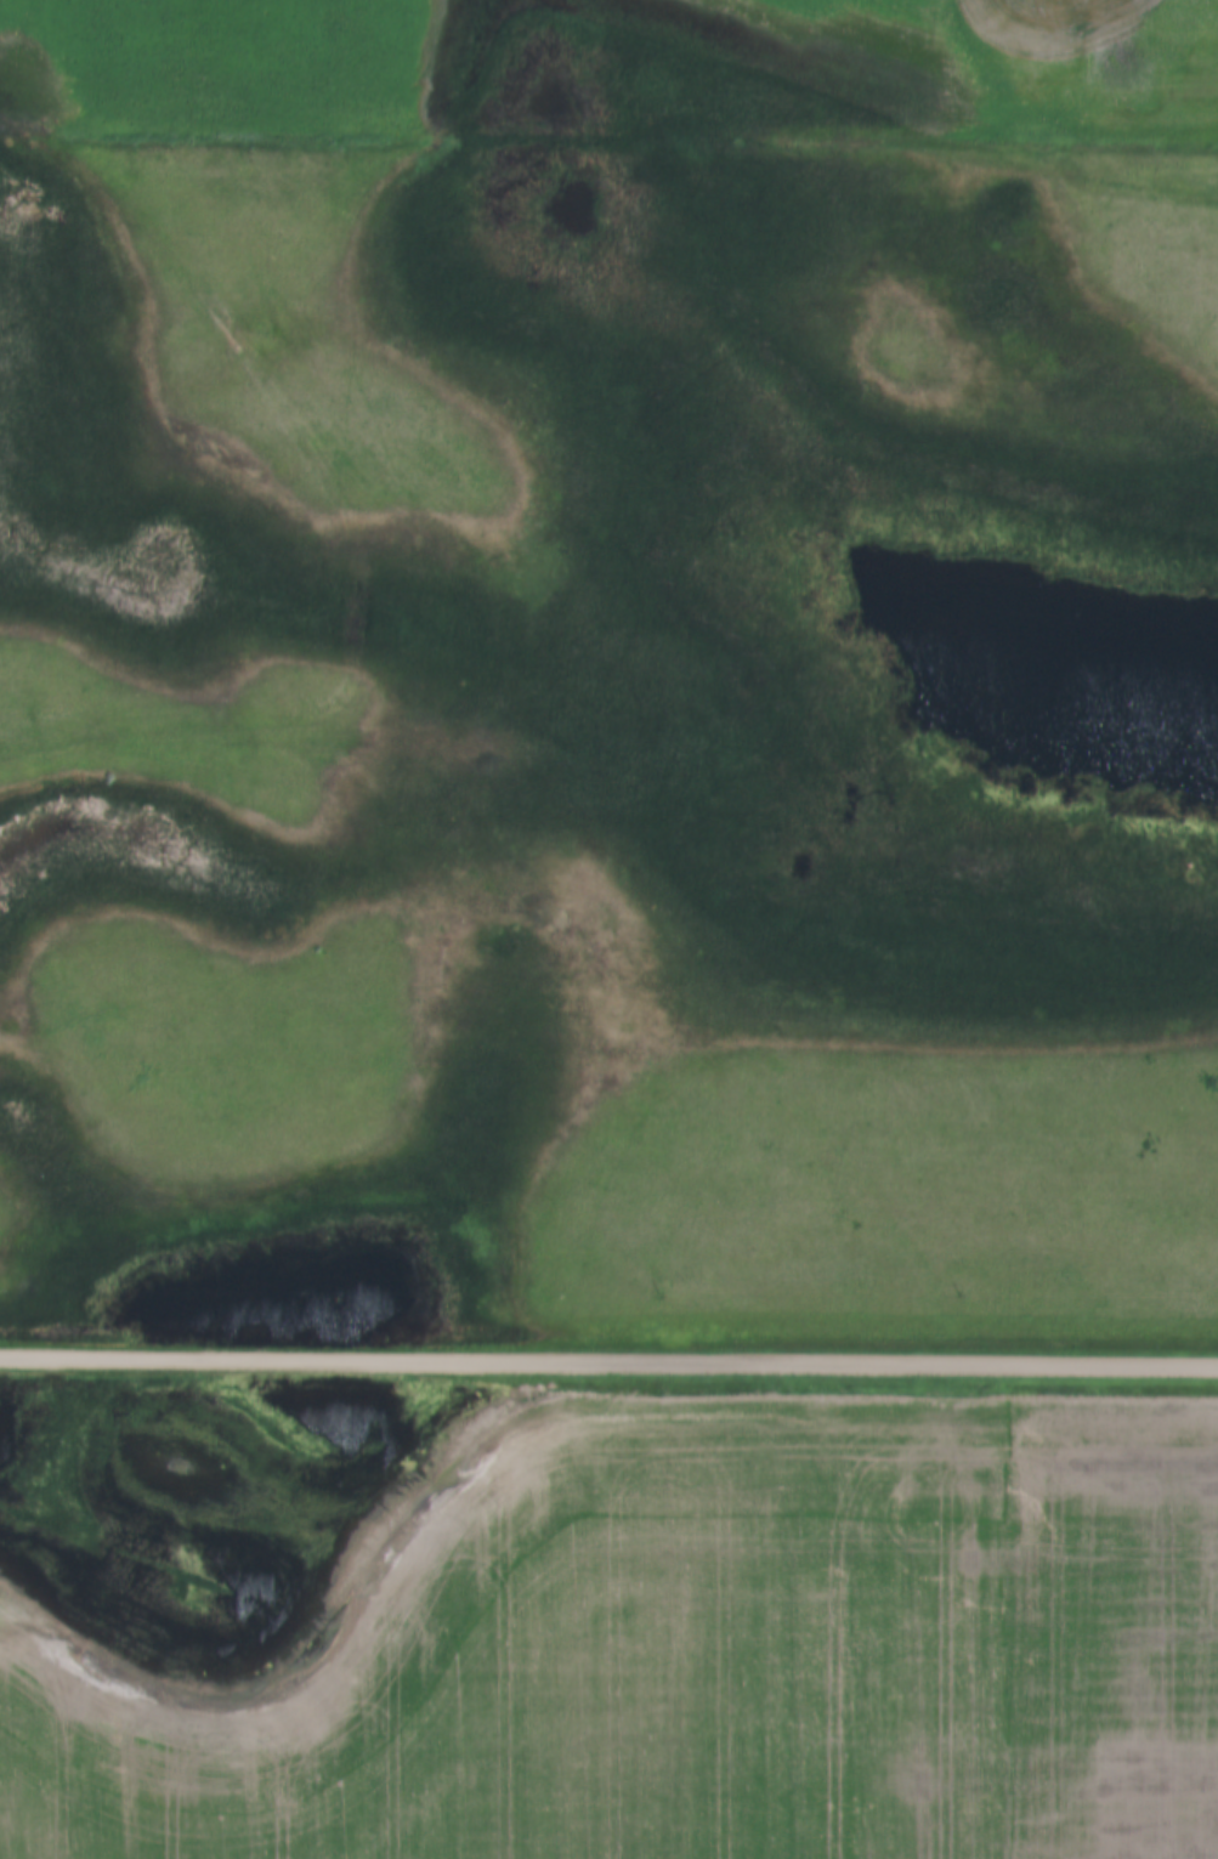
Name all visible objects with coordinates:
road: (608, 1366)

